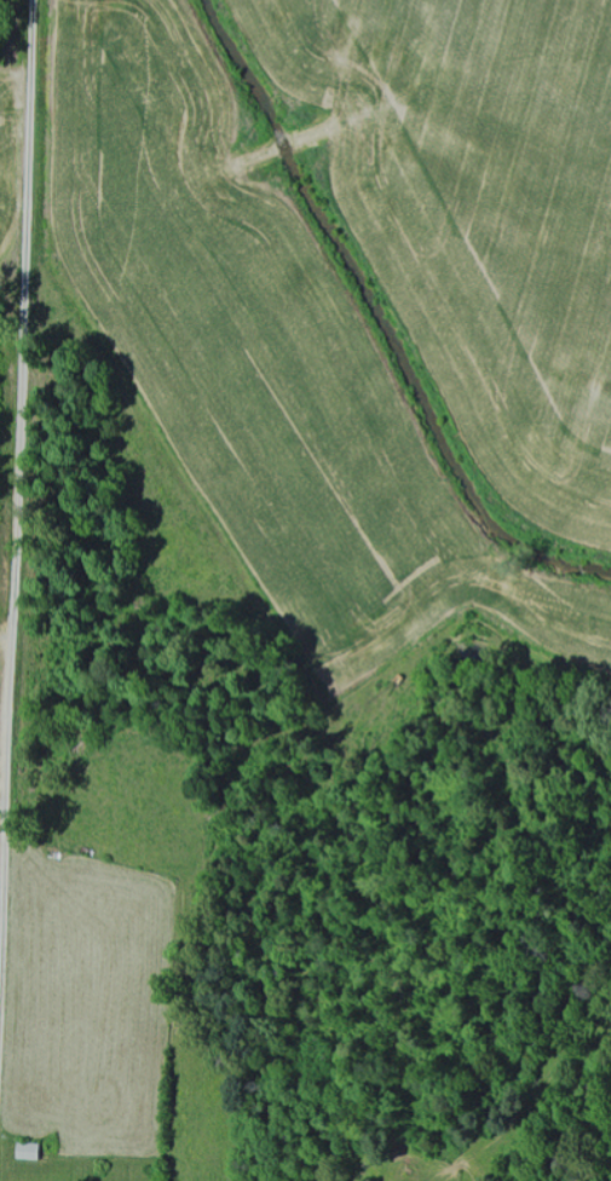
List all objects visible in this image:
road: (10, 230)

